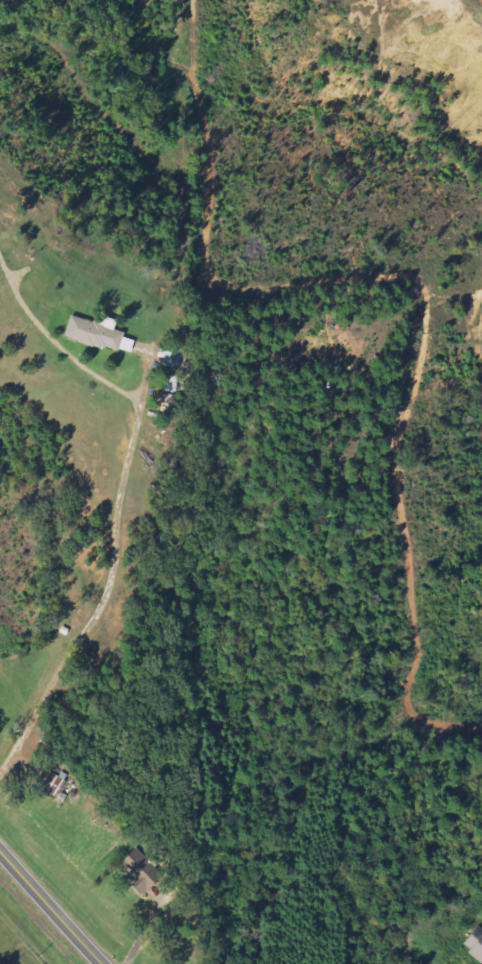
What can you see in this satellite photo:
building: (102, 335)
building: (51, 782)
building: (143, 871)
road: (50, 908)
building: (475, 944)

